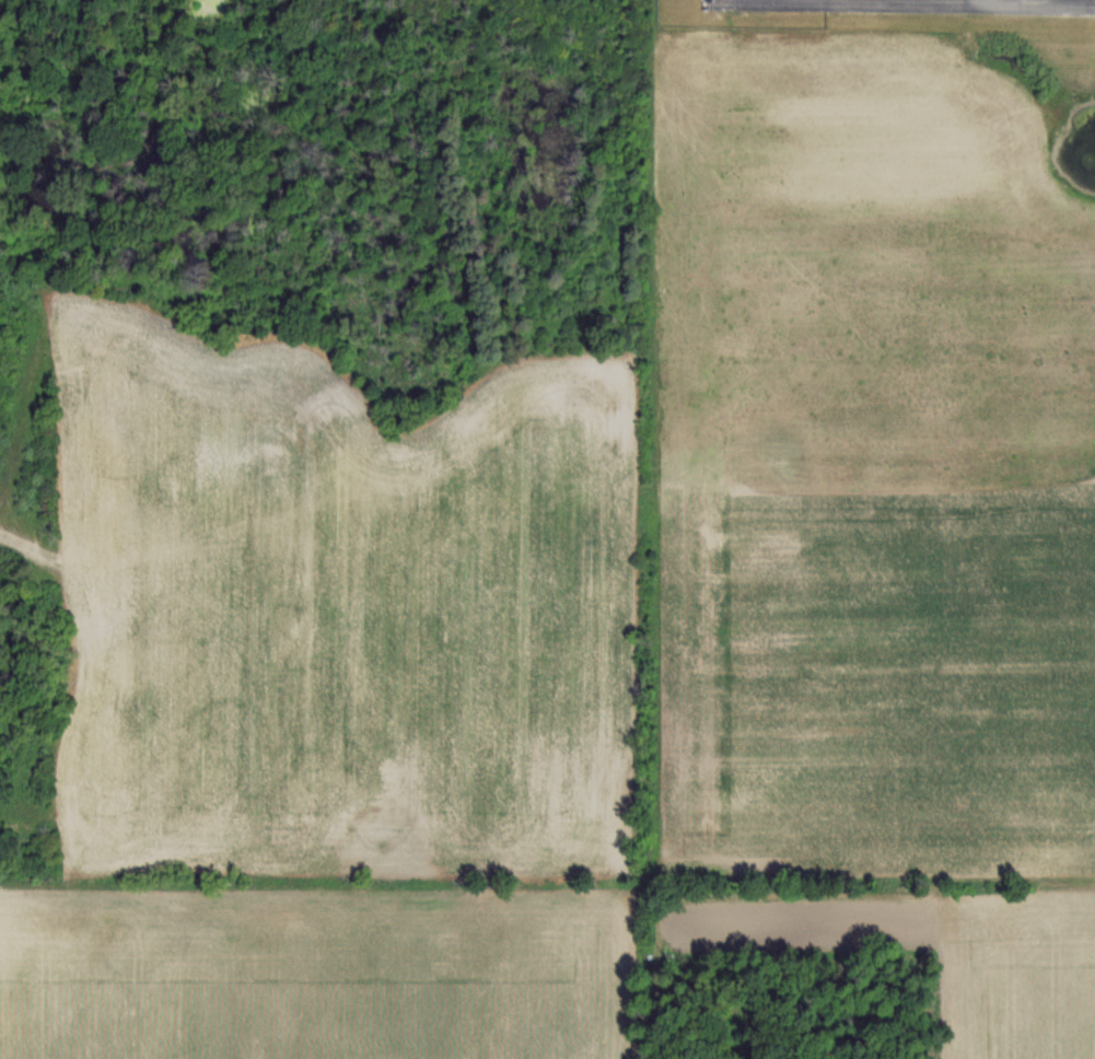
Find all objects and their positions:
road: (470, 8)
park: (329, 14)
building: (11, 827)

